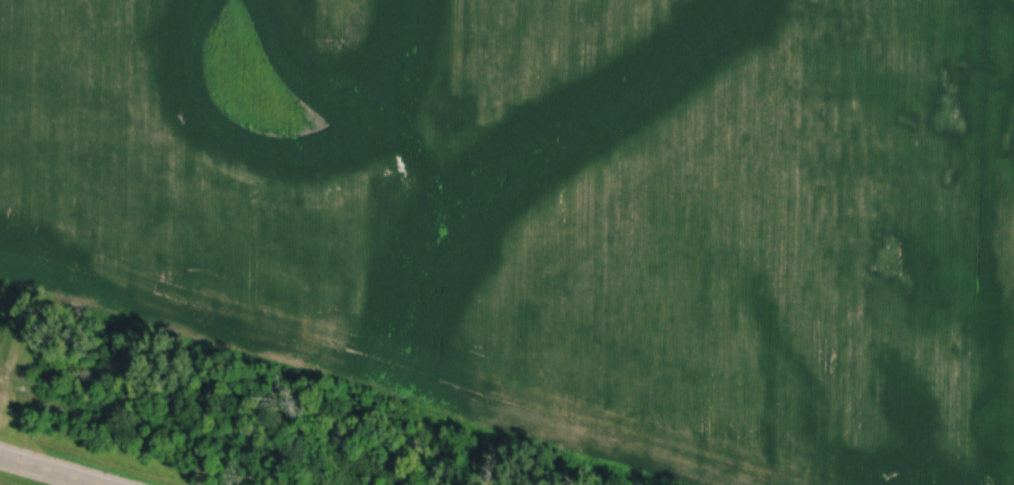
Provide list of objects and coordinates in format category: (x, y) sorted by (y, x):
road: (53, 469)

